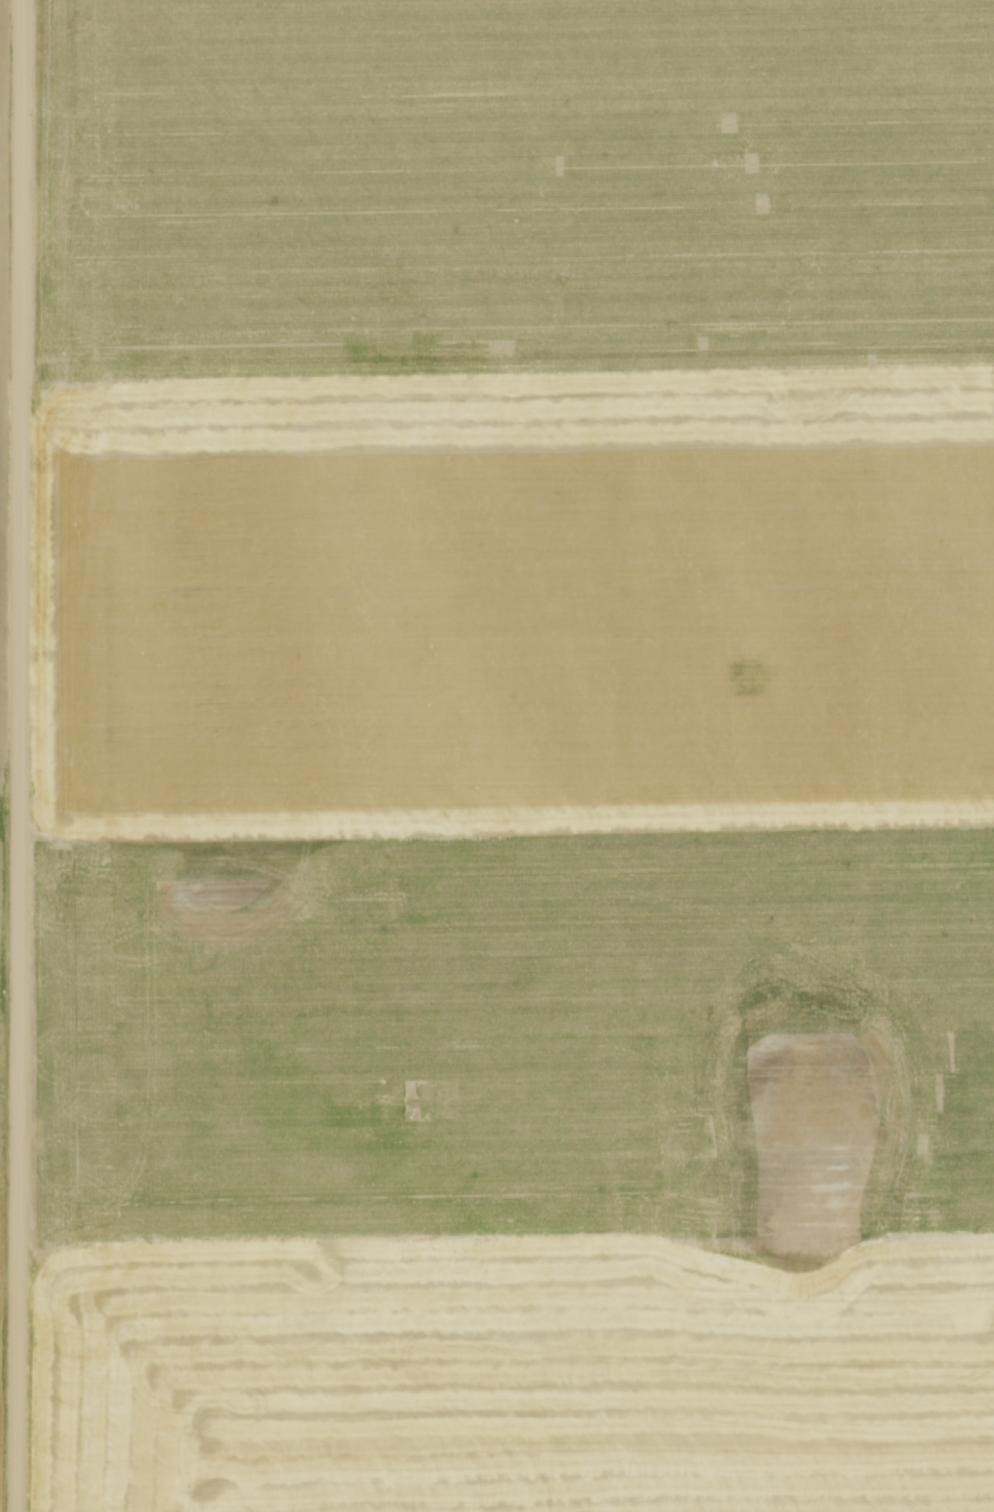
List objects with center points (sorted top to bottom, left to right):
crop: (2, 585)
road: (24, 756)
crop: (516, 756)

